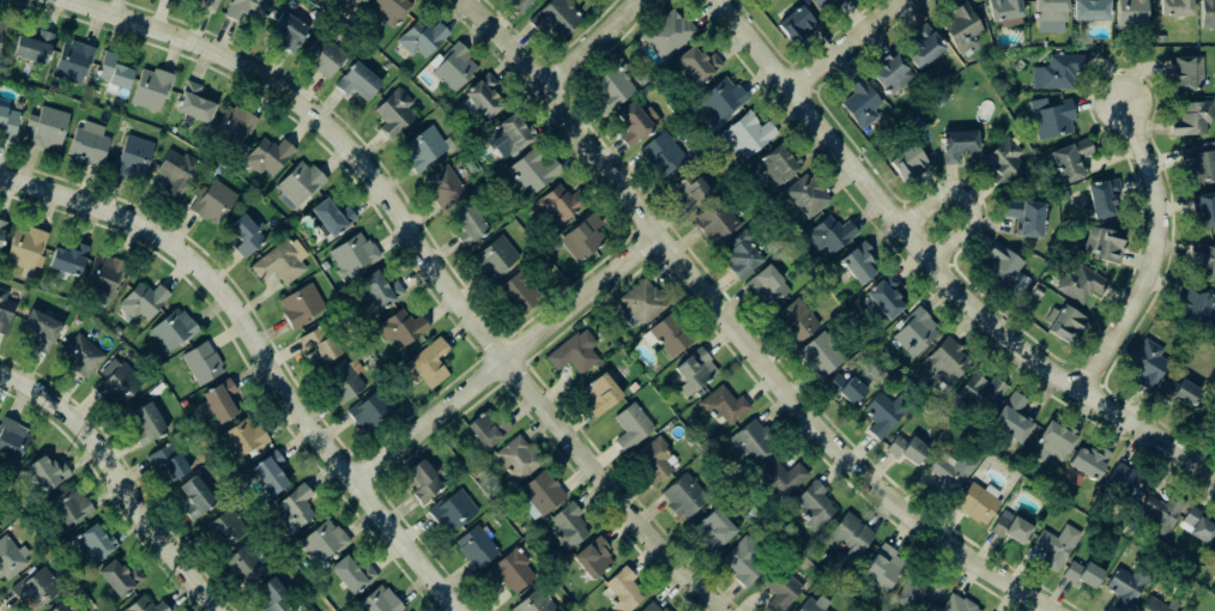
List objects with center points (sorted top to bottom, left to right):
building: (362, 0)
building: (358, 1)
building: (824, 2)
building: (204, 4)
building: (518, 4)
building: (1173, 7)
building: (242, 8)
building: (386, 8)
building: (1001, 10)
building: (1047, 10)
building: (1088, 11)
building: (1128, 13)
building: (1207, 14)
building: (552, 18)
building: (792, 24)
building: (1, 26)
building: (960, 26)
building: (284, 30)
building: (666, 34)
building: (419, 38)
building: (1157, 38)
road: (845, 44)
road: (588, 46)
building: (30, 48)
building: (920, 48)
building: (320, 56)
building: (71, 61)
building: (695, 65)
building: (385, 66)
building: (452, 67)
building: (110, 71)
building: (1056, 72)
building: (1183, 72)
building: (888, 74)
building: (639, 77)
building: (353, 81)
building: (607, 86)
building: (149, 89)
building: (480, 96)
building: (720, 99)
building: (191, 103)
building: (858, 103)
building: (392, 113)
building: (1050, 117)
building: (1190, 117)
building: (7, 123)
building: (234, 123)
building: (628, 125)
building: (44, 127)
building: (510, 134)
building: (743, 137)
building: (86, 143)
building: (955, 145)
building: (421, 149)
building: (659, 153)
building: (129, 156)
building: (265, 156)
building: (1066, 158)
building: (903, 162)
building: (999, 163)
building: (1202, 163)
building: (776, 164)
building: (533, 169)
building: (176, 173)
building: (298, 182)
building: (442, 187)
building: (688, 187)
building: (804, 195)
building: (1100, 196)
road: (967, 199)
building: (211, 201)
building: (555, 205)
building: (1204, 210)
building: (328, 217)
building: (1021, 218)
building: (712, 222)
building: (465, 225)
building: (1, 226)
building: (827, 235)
building: (242, 236)
building: (579, 236)
building: (552, 244)
building: (1100, 246)
building: (23, 249)
road: (1154, 253)
building: (350, 254)
building: (739, 256)
road: (425, 258)
building: (491, 258)
building: (65, 259)
building: (1202, 261)
building: (277, 262)
building: (856, 262)
building: (998, 266)
road: (935, 270)
building: (101, 276)
building: (761, 283)
building: (1077, 284)
building: (376, 290)
building: (515, 295)
building: (882, 297)
building: (140, 301)
building: (639, 303)
building: (298, 305)
building: (1193, 307)
building: (4, 310)
building: (793, 321)
building: (1060, 322)
building: (397, 328)
building: (37, 329)
building: (170, 329)
road: (731, 329)
building: (913, 332)
building: (667, 335)
building: (316, 345)
road: (259, 352)
building: (572, 352)
building: (818, 353)
building: (80, 357)
road: (503, 357)
building: (425, 362)
building: (943, 362)
building: (200, 363)
building: (1146, 364)
building: (693, 370)
building: (340, 381)
building: (115, 383)
building: (845, 386)
building: (979, 392)
building: (1179, 393)
building: (597, 394)
building: (217, 400)
building: (720, 405)
building: (369, 412)
building: (881, 413)
building: (1009, 418)
building: (145, 423)
building: (629, 425)
building: (484, 430)
building: (242, 436)
building: (11, 438)
building: (749, 442)
building: (1050, 442)
building: (905, 449)
building: (514, 458)
building: (165, 461)
building: (651, 461)
building: (1086, 462)
building: (266, 472)
building: (43, 473)
building: (779, 477)
building: (948, 477)
road: (116, 482)
building: (421, 482)
building: (1124, 482)
building: (539, 492)
building: (681, 495)
building: (192, 497)
building: (974, 503)
building: (66, 506)
building: (811, 506)
building: (290, 509)
building: (449, 510)
building: (1160, 514)
building: (1195, 526)
building: (566, 527)
building: (713, 528)
building: (1008, 528)
building: (220, 531)
building: (846, 536)
building: (321, 542)
building: (92, 543)
building: (474, 546)
building: (1053, 546)
building: (1213, 555)
building: (591, 557)
building: (10, 558)
building: (744, 559)
building: (881, 565)
building: (242, 567)
building: (508, 570)
building: (1081, 574)
building: (347, 575)
building: (116, 579)
building: (781, 586)
building: (1123, 587)
building: (31, 588)
building: (622, 591)
building: (917, 592)
building: (271, 597)
building: (375, 601)
building: (532, 601)
building: (955, 604)
building: (62, 605)
building: (811, 605)
building: (1155, 605)
building: (141, 606)
building: (651, 607)
building: (308, 609)

